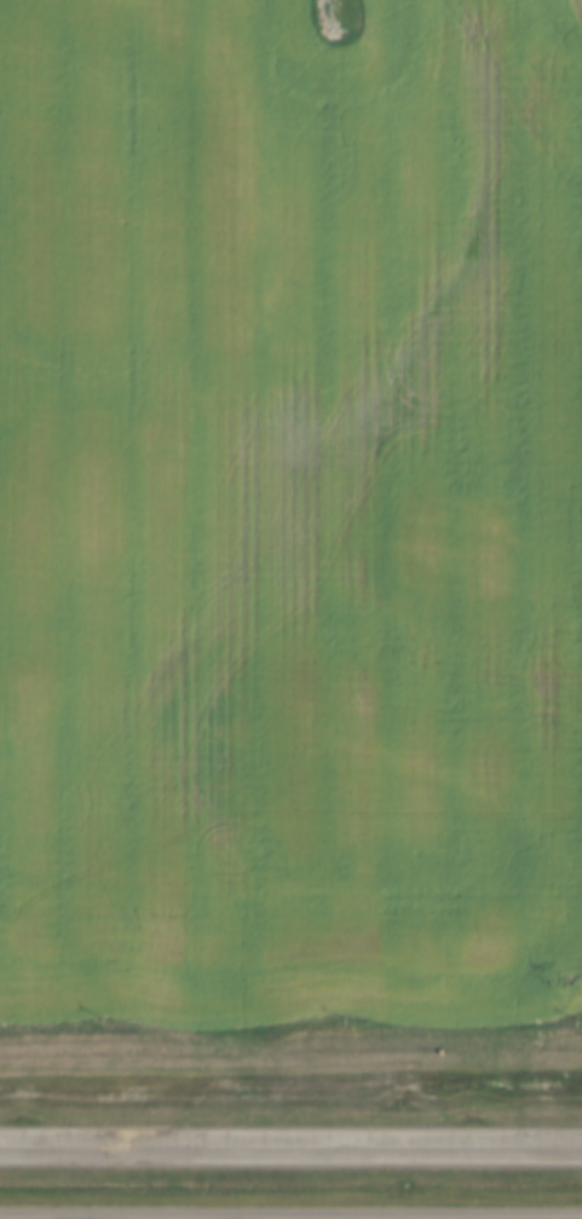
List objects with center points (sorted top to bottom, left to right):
road: (290, 1152)

